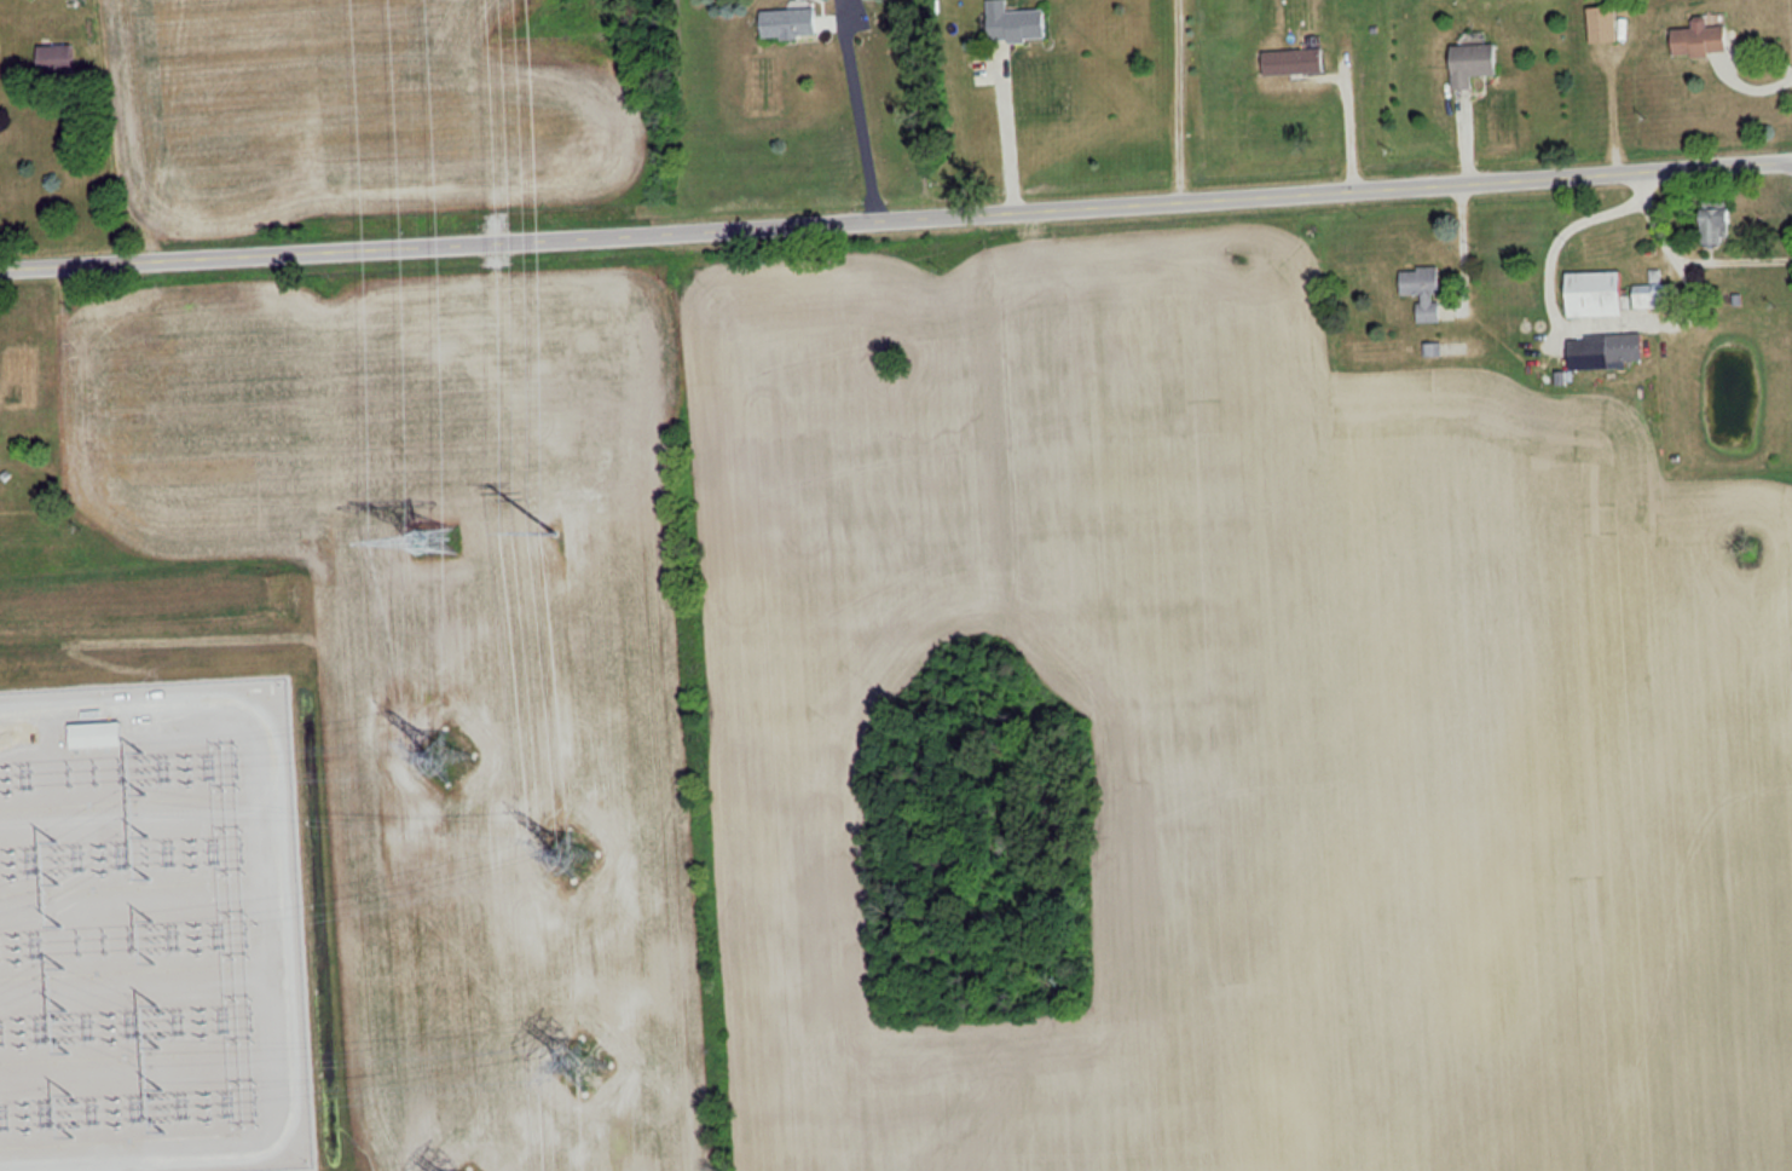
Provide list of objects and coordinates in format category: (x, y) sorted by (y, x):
building: (786, 23)
building: (1597, 24)
building: (1013, 25)
building: (1696, 40)
building: (53, 59)
building: (1290, 62)
building: (1468, 64)
road: (1179, 97)
road: (860, 119)
road: (1008, 137)
road: (895, 208)
building: (1710, 225)
road: (1568, 226)
road: (1693, 267)
building: (1421, 290)
building: (1653, 293)
building: (1590, 294)
building: (1602, 351)
power tower: (424, 544)
power tower: (555, 544)
building: (93, 734)
power tower: (443, 756)
power tower: (582, 859)
road: (284, 911)
power substation: (152, 931)
power tower: (584, 1065)

